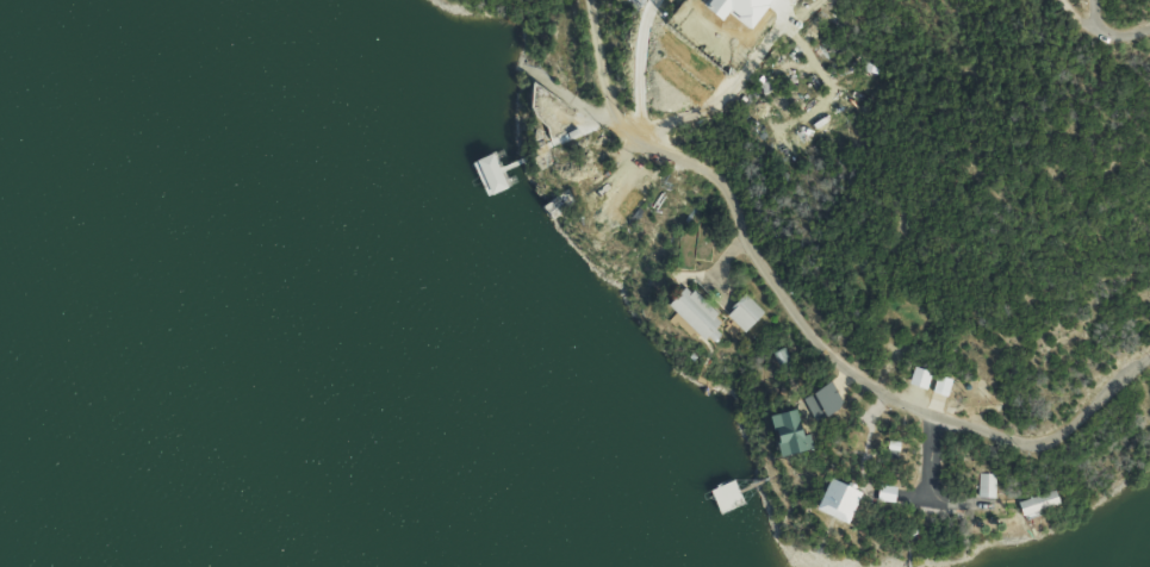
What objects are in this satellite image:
road: (1094, 18)
road: (1098, 36)
road: (671, 121)
building: (744, 313)
building: (694, 314)
road: (804, 319)
building: (779, 357)
building: (920, 379)
building: (939, 394)
building: (821, 404)
building: (783, 435)
building: (987, 486)
building: (833, 503)
building: (1036, 504)

